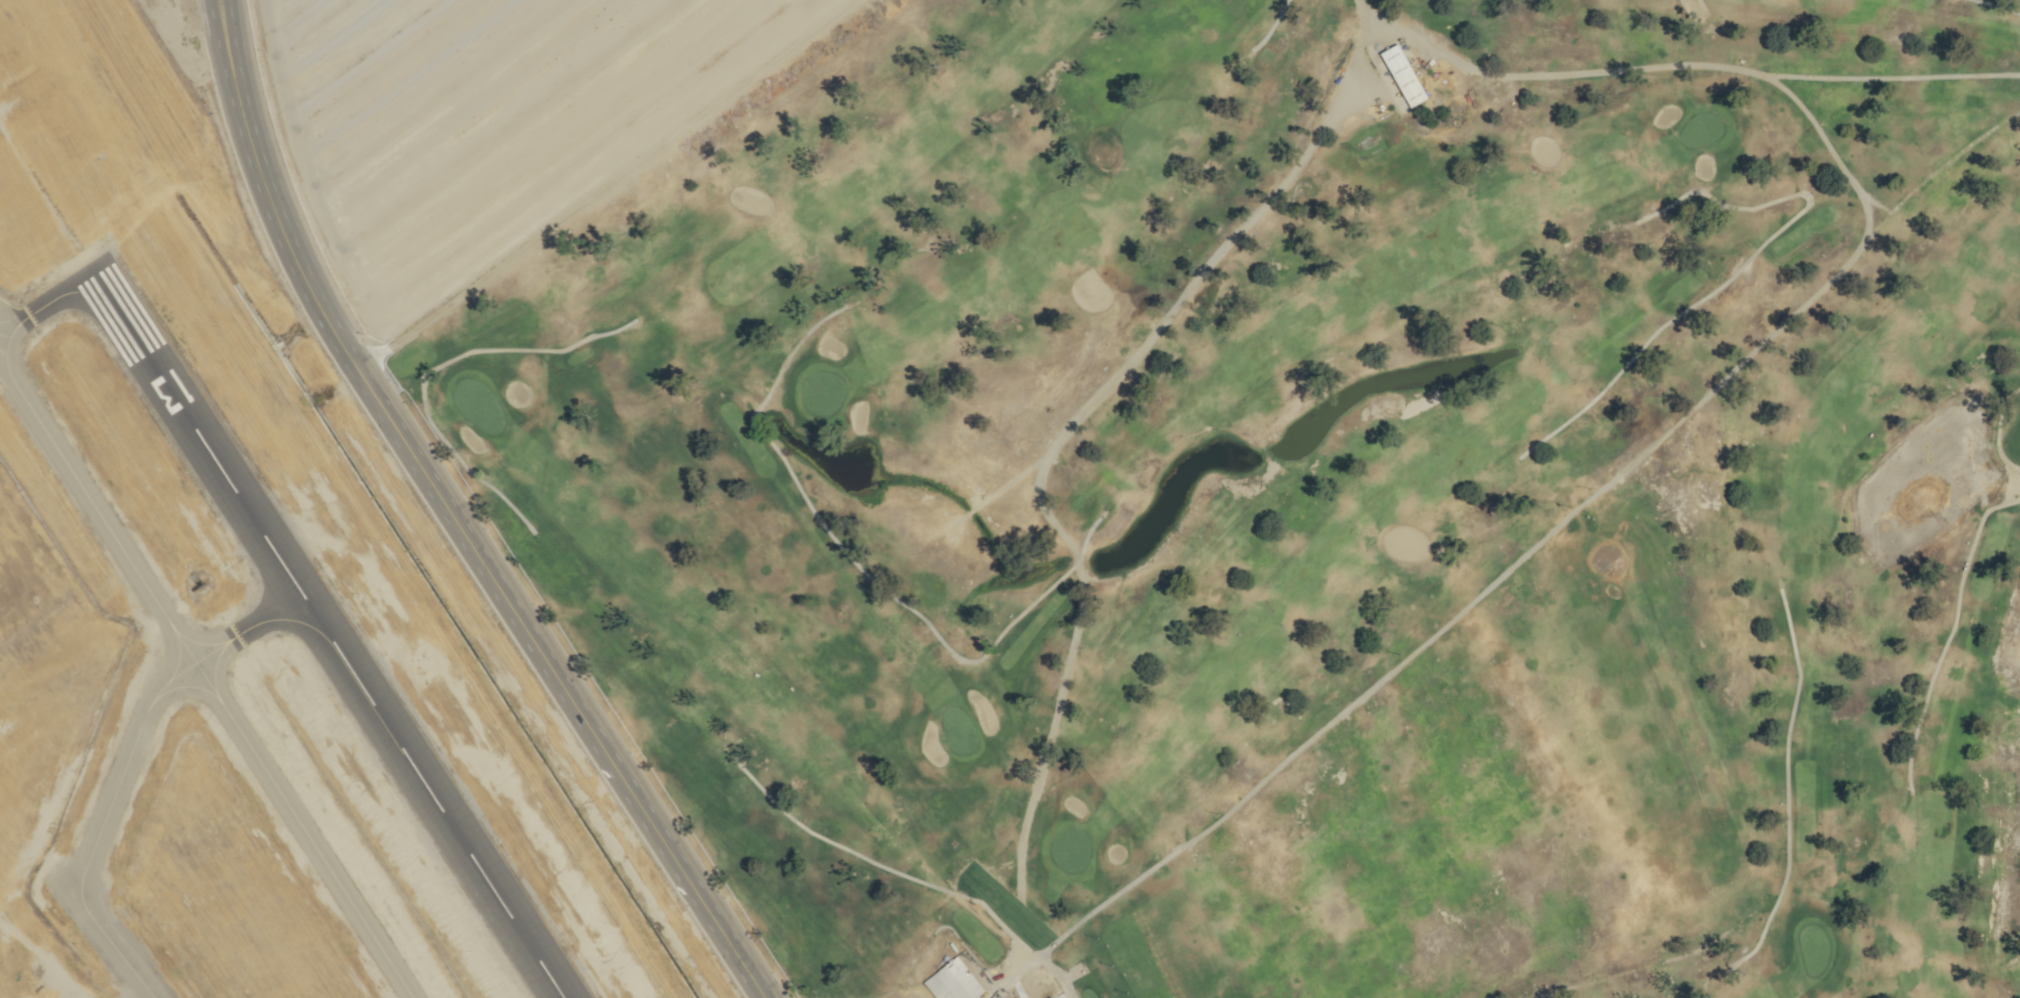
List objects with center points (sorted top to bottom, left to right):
building: (1402, 75)
road: (1653, 440)
park: (1303, 496)
road: (450, 516)
airport: (249, 618)
airport taxiway: (167, 624)
airport runway: (326, 635)
airport taxiway: (126, 760)
building: (952, 981)
building: (1050, 997)

